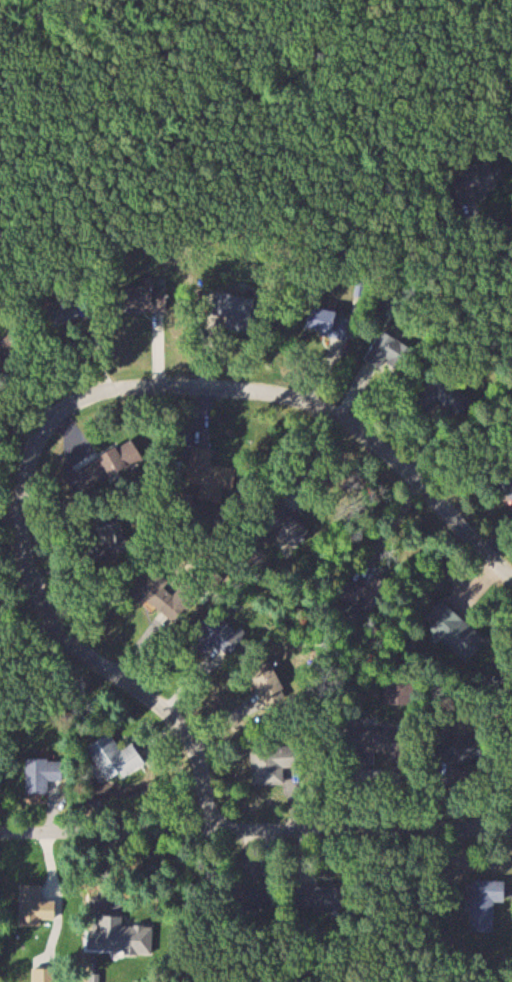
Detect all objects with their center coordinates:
building: (478, 181)
building: (148, 297)
building: (234, 307)
building: (330, 323)
building: (388, 352)
building: (443, 395)
road: (73, 406)
building: (210, 468)
building: (104, 469)
building: (508, 488)
building: (289, 527)
building: (113, 535)
building: (158, 597)
building: (365, 602)
building: (457, 633)
building: (216, 638)
building: (271, 686)
building: (371, 744)
building: (116, 758)
building: (269, 767)
building: (45, 777)
road: (255, 825)
building: (262, 898)
building: (486, 903)
building: (36, 907)
building: (127, 937)

